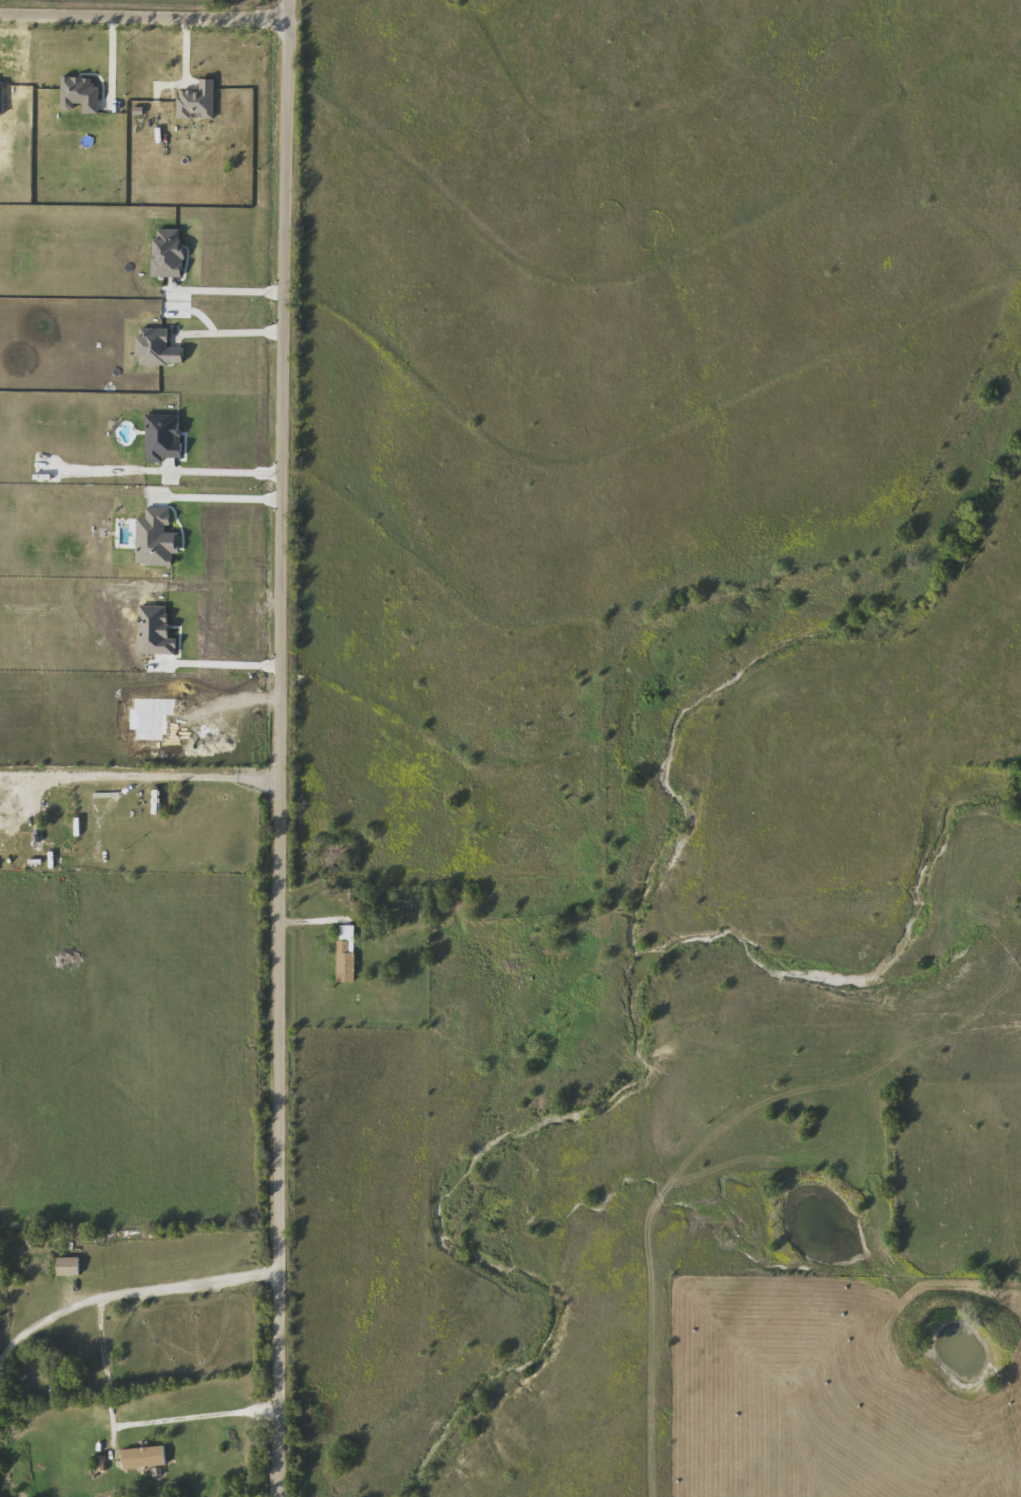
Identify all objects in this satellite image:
road: (292, 19)
road: (109, 62)
road: (185, 305)
road: (224, 473)
road: (219, 497)
road: (284, 617)
building: (151, 629)
road: (220, 664)
building: (146, 716)
road: (141, 773)
building: (36, 831)
building: (24, 859)
building: (548, 936)
building: (346, 951)
building: (69, 1264)
road: (131, 1290)
road: (131, 1424)
building: (144, 1455)

